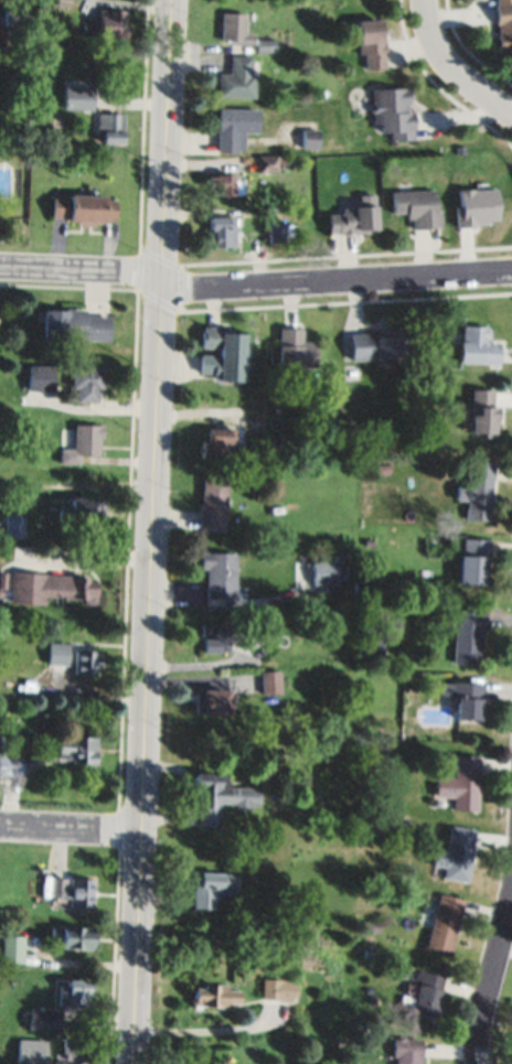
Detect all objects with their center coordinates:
building: (63, 2)
building: (17, 14)
building: (504, 21)
building: (111, 24)
building: (235, 29)
building: (373, 41)
building: (266, 44)
road: (452, 69)
building: (237, 79)
building: (320, 94)
building: (75, 101)
building: (393, 112)
building: (234, 127)
building: (110, 128)
building: (309, 138)
building: (270, 162)
building: (218, 183)
building: (237, 186)
building: (417, 207)
building: (83, 208)
building: (353, 219)
building: (220, 229)
building: (282, 233)
road: (81, 269)
road: (337, 282)
building: (73, 324)
building: (377, 344)
building: (477, 345)
building: (295, 350)
building: (222, 353)
building: (42, 376)
building: (85, 381)
building: (13, 407)
building: (22, 407)
building: (481, 412)
building: (225, 441)
building: (82, 443)
building: (382, 467)
building: (476, 491)
building: (213, 503)
building: (83, 512)
building: (14, 526)
road: (154, 531)
building: (471, 561)
building: (217, 573)
building: (323, 573)
building: (2, 580)
building: (38, 587)
building: (85, 590)
building: (263, 619)
building: (466, 632)
building: (213, 638)
building: (372, 645)
building: (85, 662)
building: (269, 681)
building: (409, 688)
building: (463, 698)
building: (334, 699)
building: (210, 700)
building: (76, 749)
building: (39, 755)
building: (9, 764)
building: (461, 783)
building: (271, 795)
building: (216, 797)
road: (71, 829)
building: (455, 853)
building: (57, 888)
building: (209, 888)
building: (81, 892)
building: (444, 922)
building: (70, 936)
building: (11, 948)
road: (490, 979)
building: (277, 989)
building: (71, 992)
building: (427, 992)
building: (213, 996)
building: (42, 1019)
building: (29, 1047)
building: (405, 1050)
building: (70, 1053)

